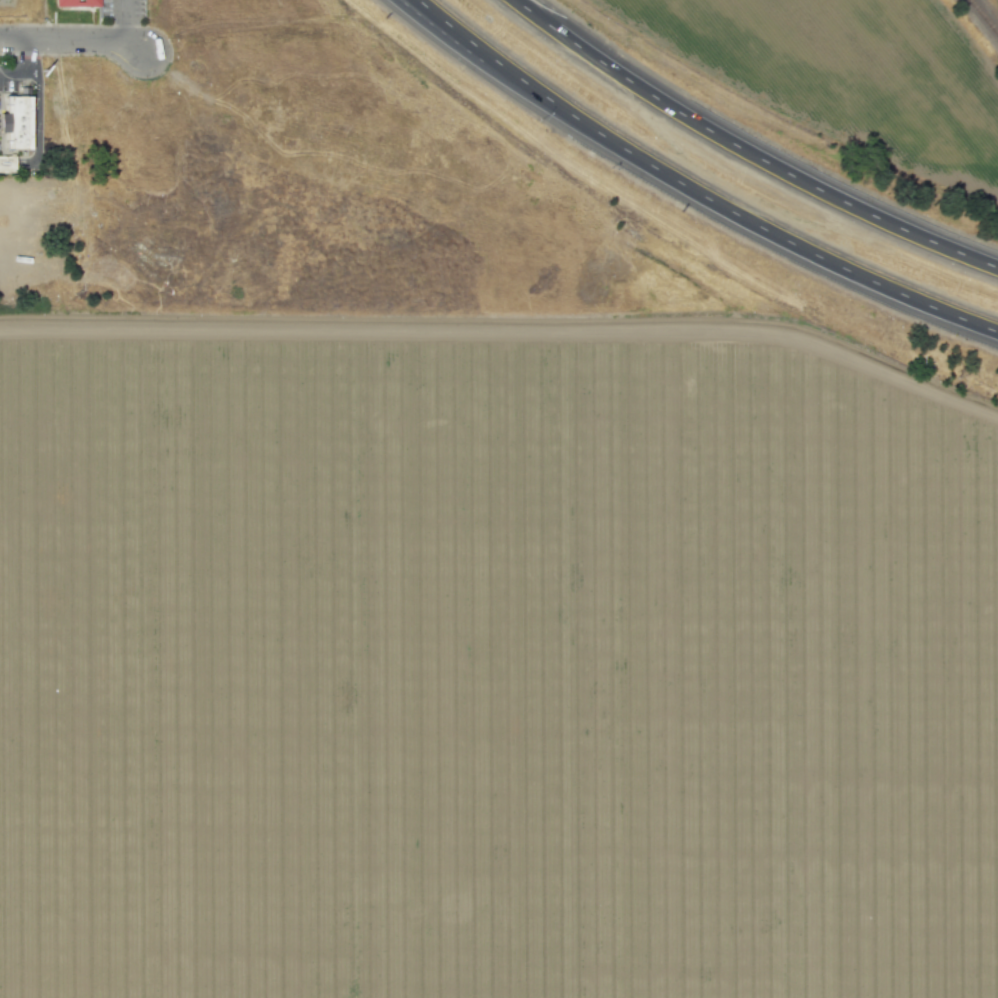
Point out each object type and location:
building: (77, 3)
parking lot: (121, 8)
railway: (983, 17)
road: (121, 22)
road: (73, 39)
road: (27, 69)
building: (16, 122)
road: (746, 152)
building: (7, 164)
road: (693, 191)
road: (506, 328)
crop: (492, 673)

